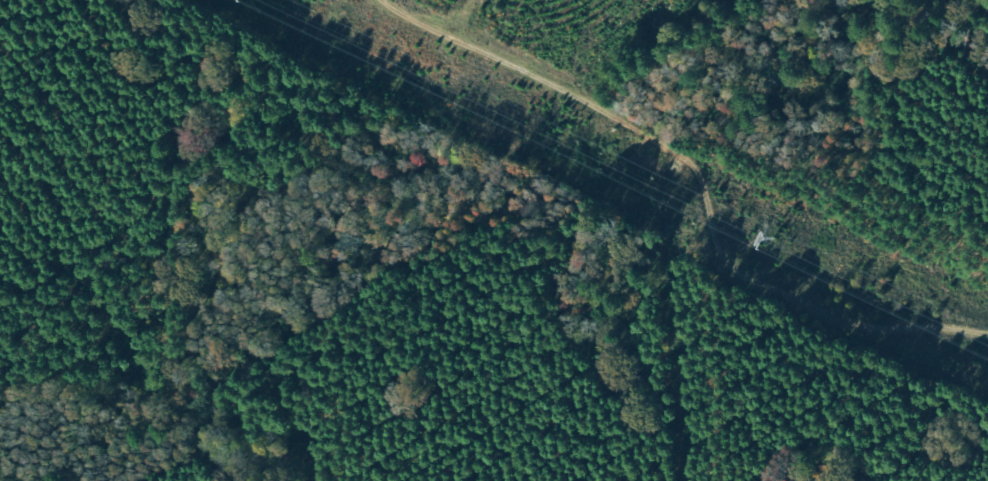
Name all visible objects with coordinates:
power tower: (779, 238)

